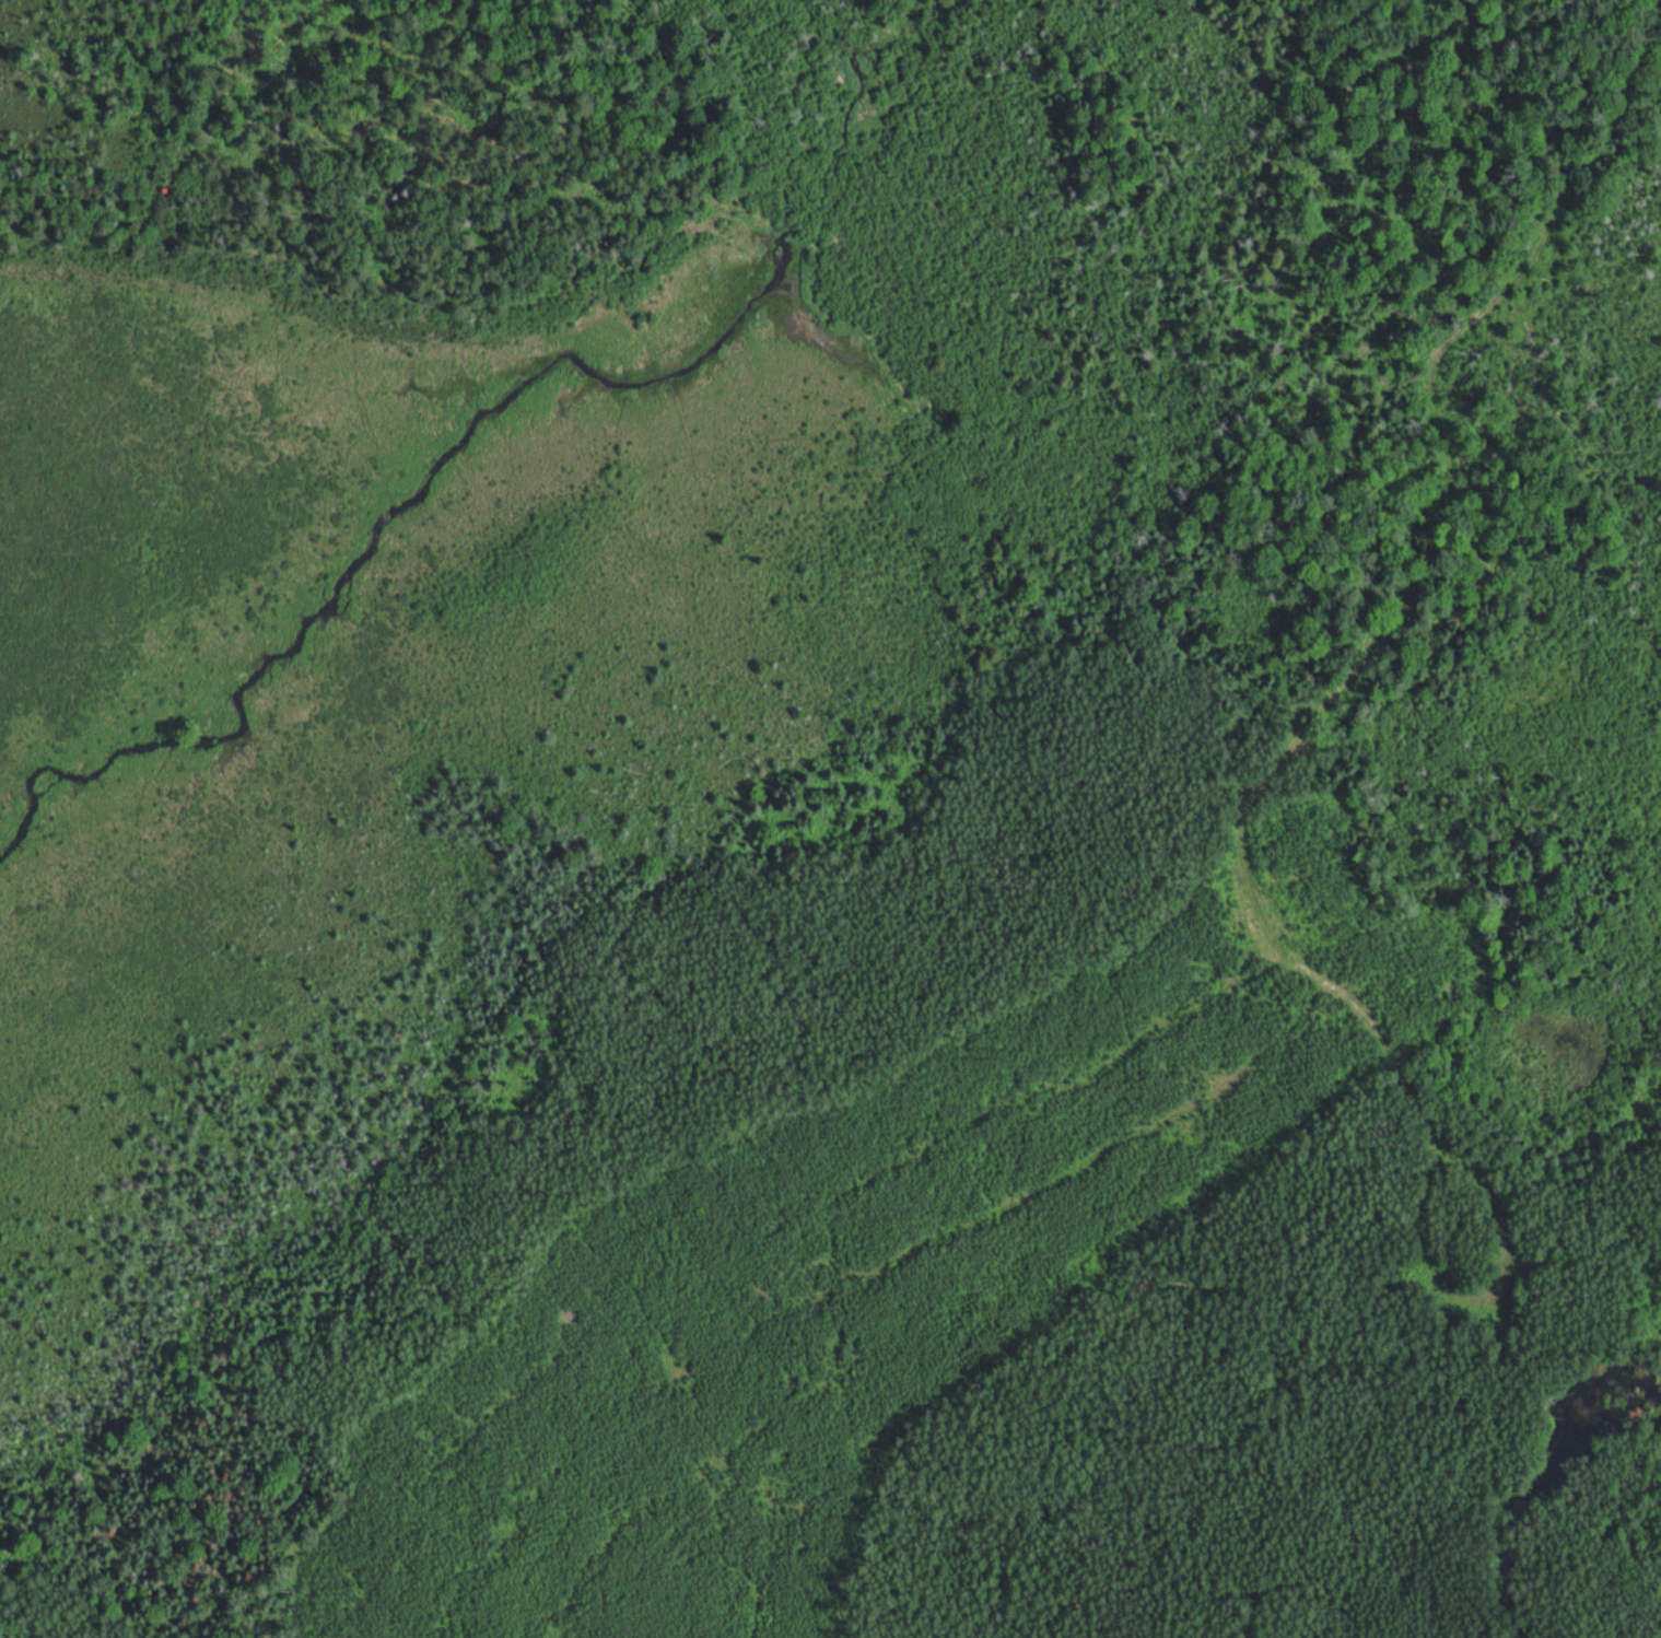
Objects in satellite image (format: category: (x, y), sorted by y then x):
road: (1407, 586)
road: (1481, 1290)

